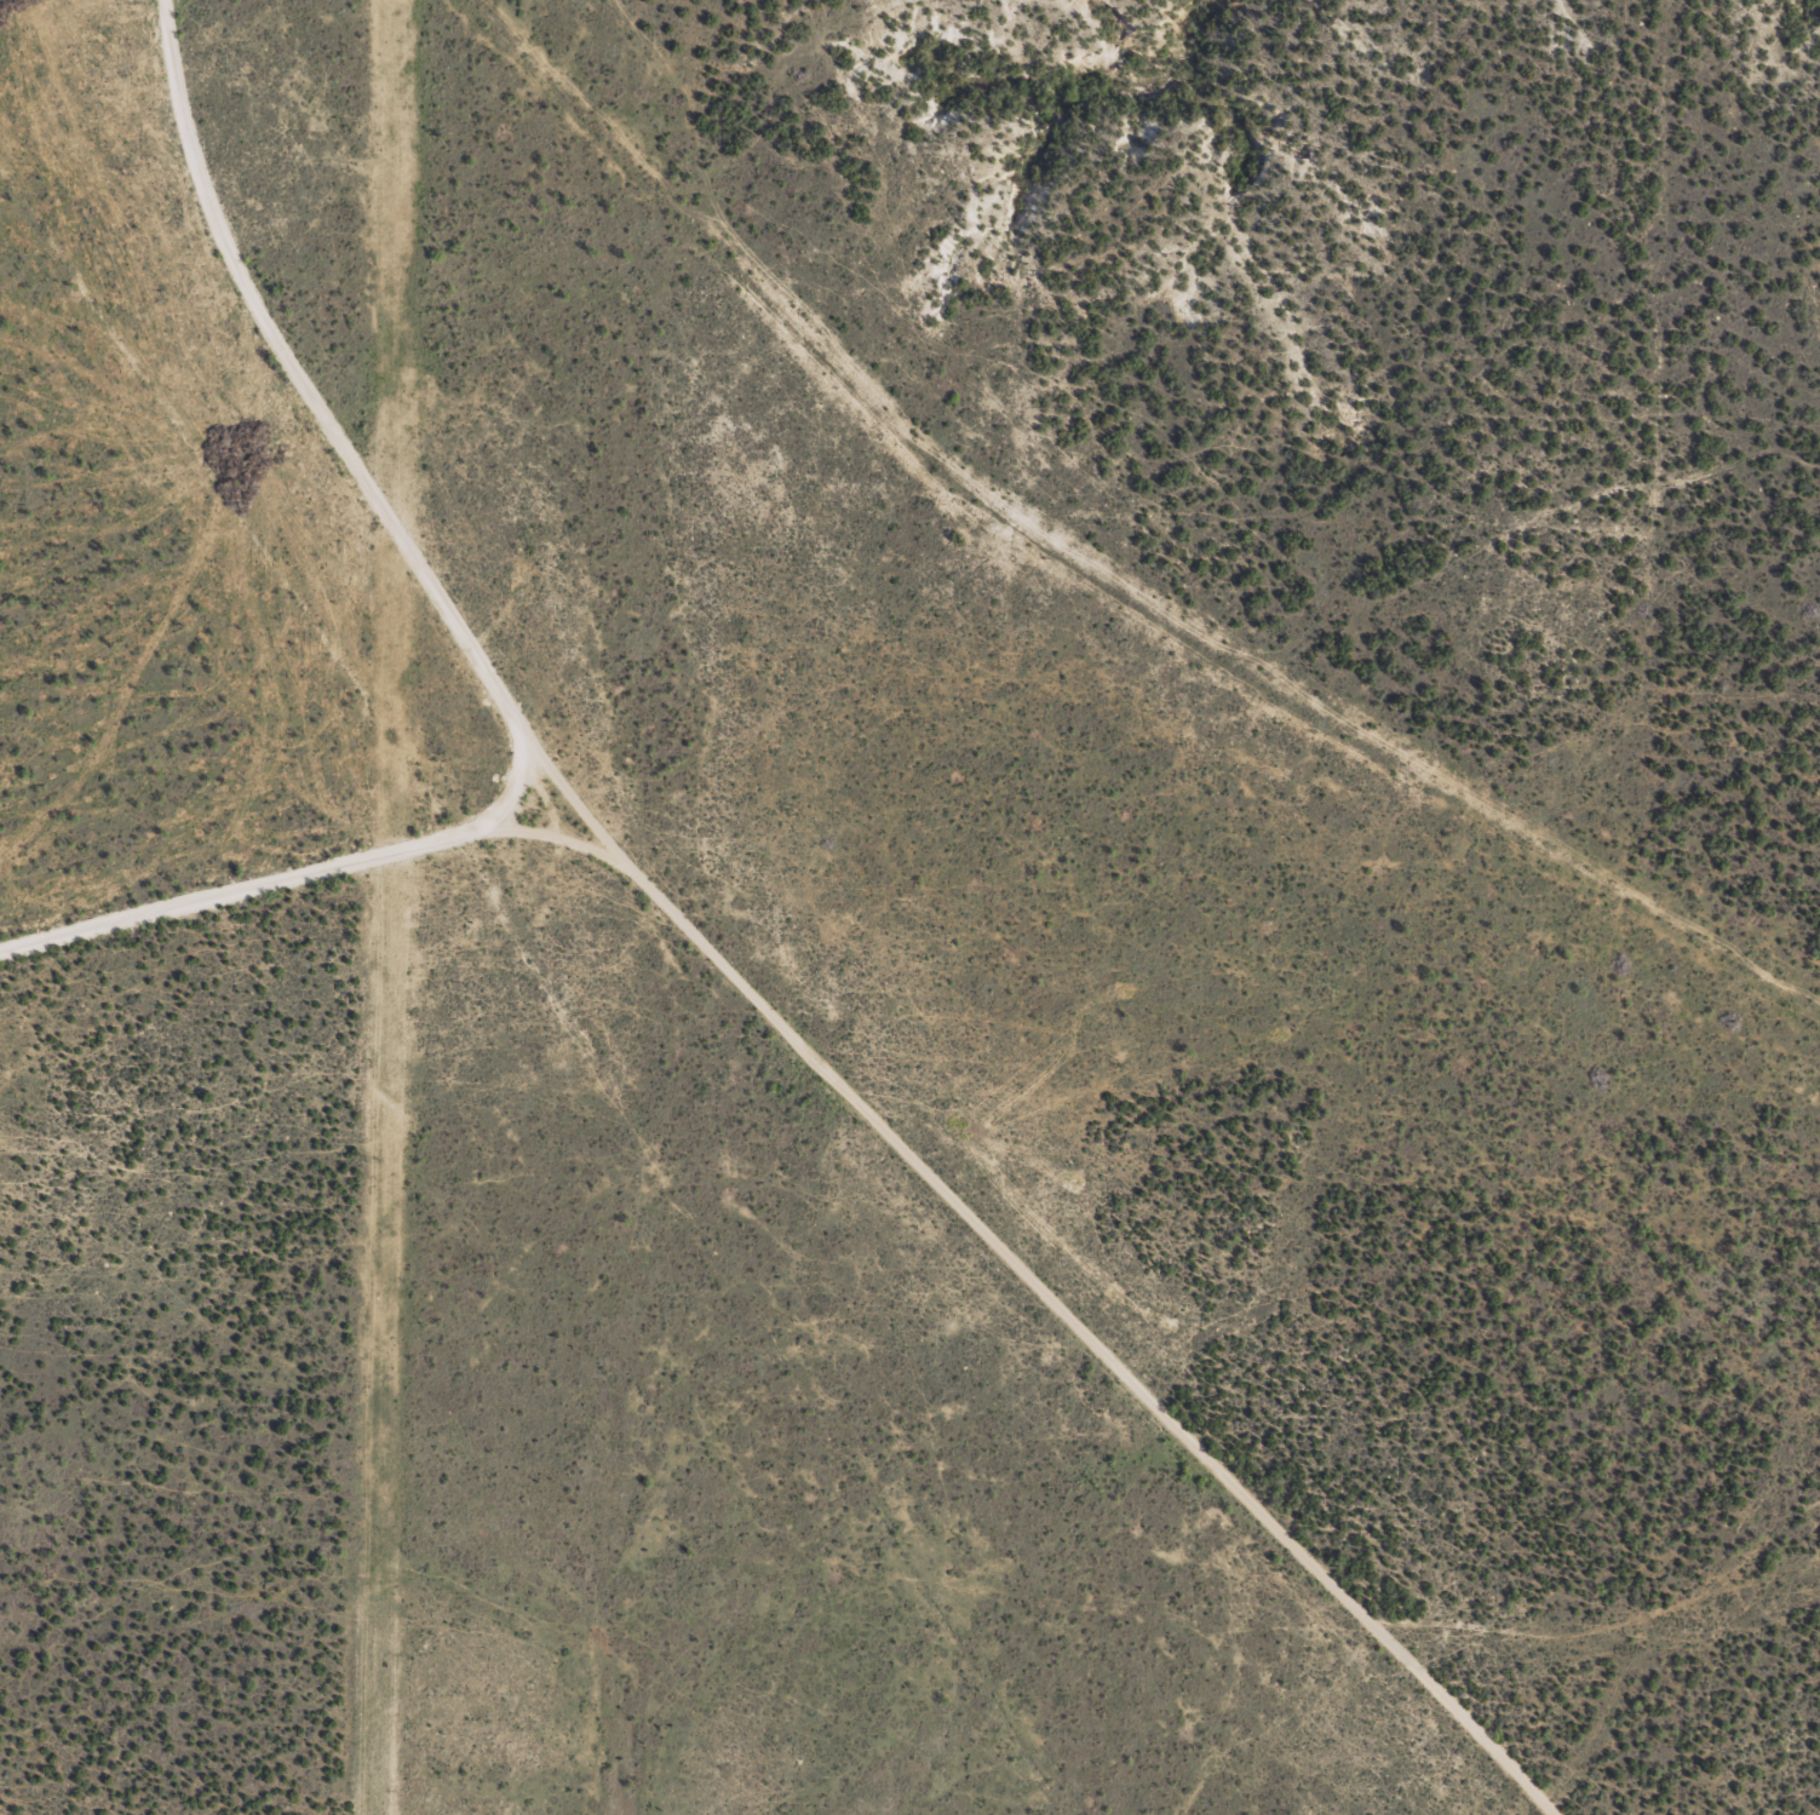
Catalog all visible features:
road: (280, 936)
road: (754, 969)

